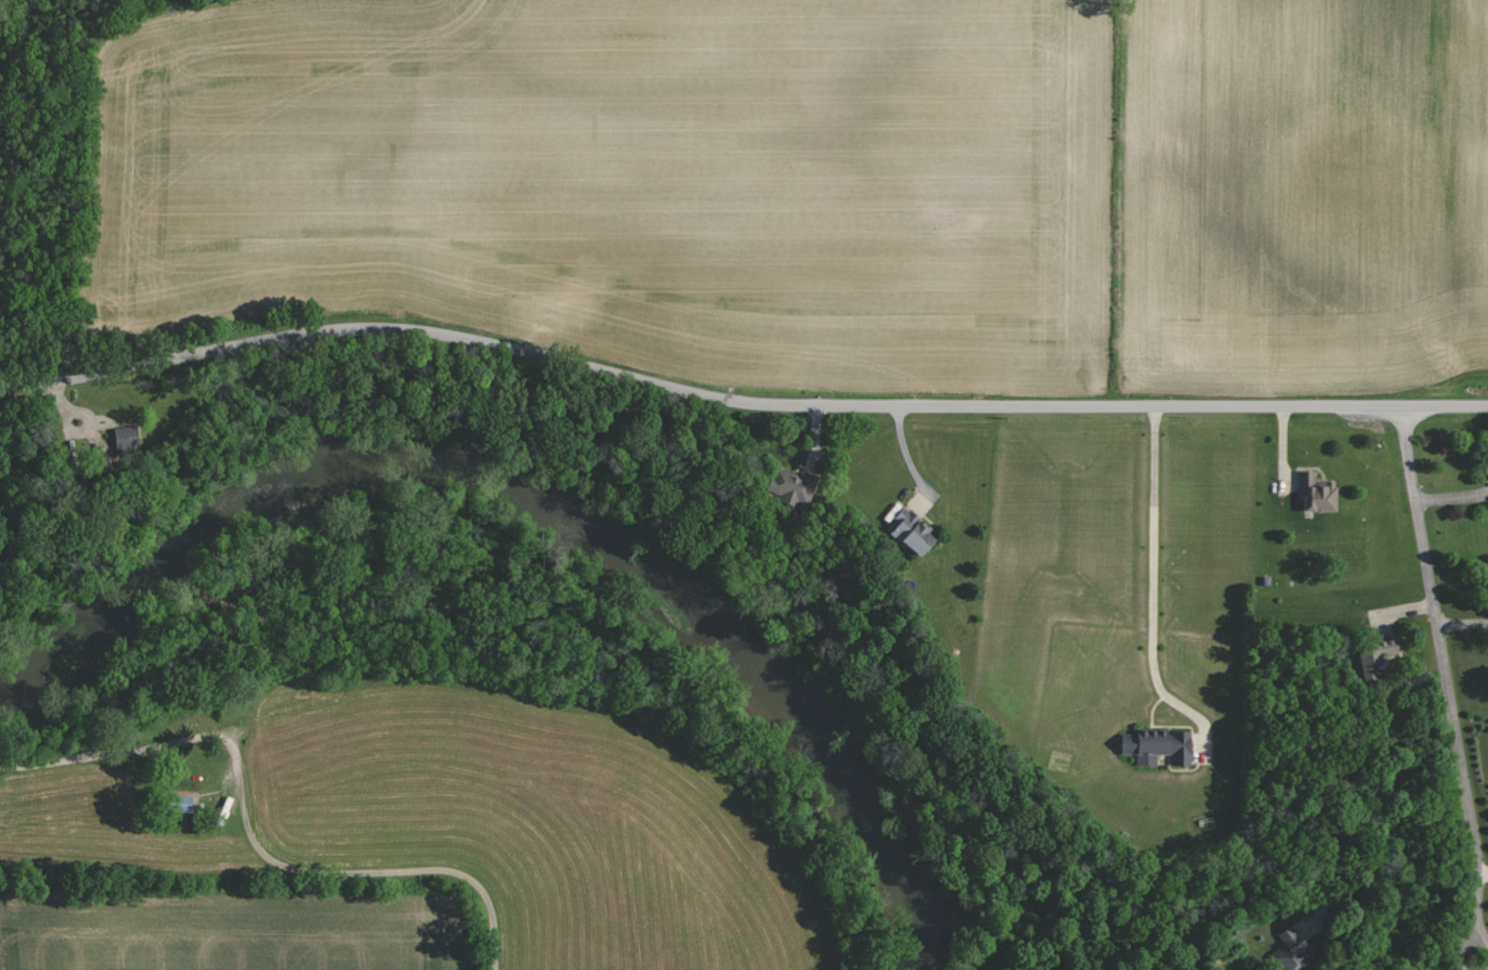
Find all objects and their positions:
road: (737, 401)
building: (127, 437)
building: (795, 486)
building: (1318, 491)
river: (542, 526)
building: (916, 530)
road: (1153, 584)
building: (1379, 656)
road: (1444, 672)
building: (1161, 745)
road: (253, 839)
road: (1463, 945)
building: (1296, 950)

